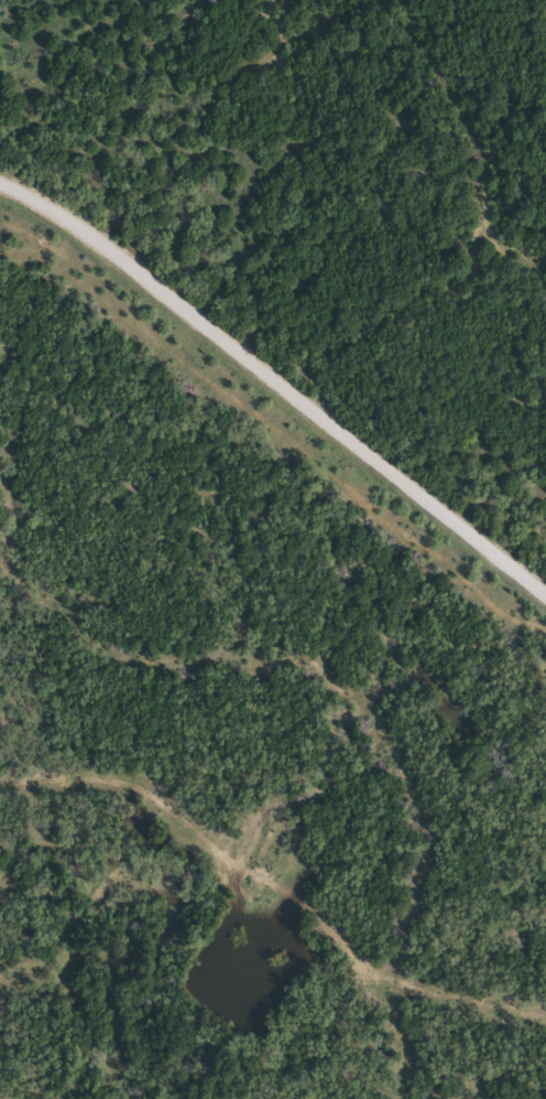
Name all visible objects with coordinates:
road: (275, 380)

